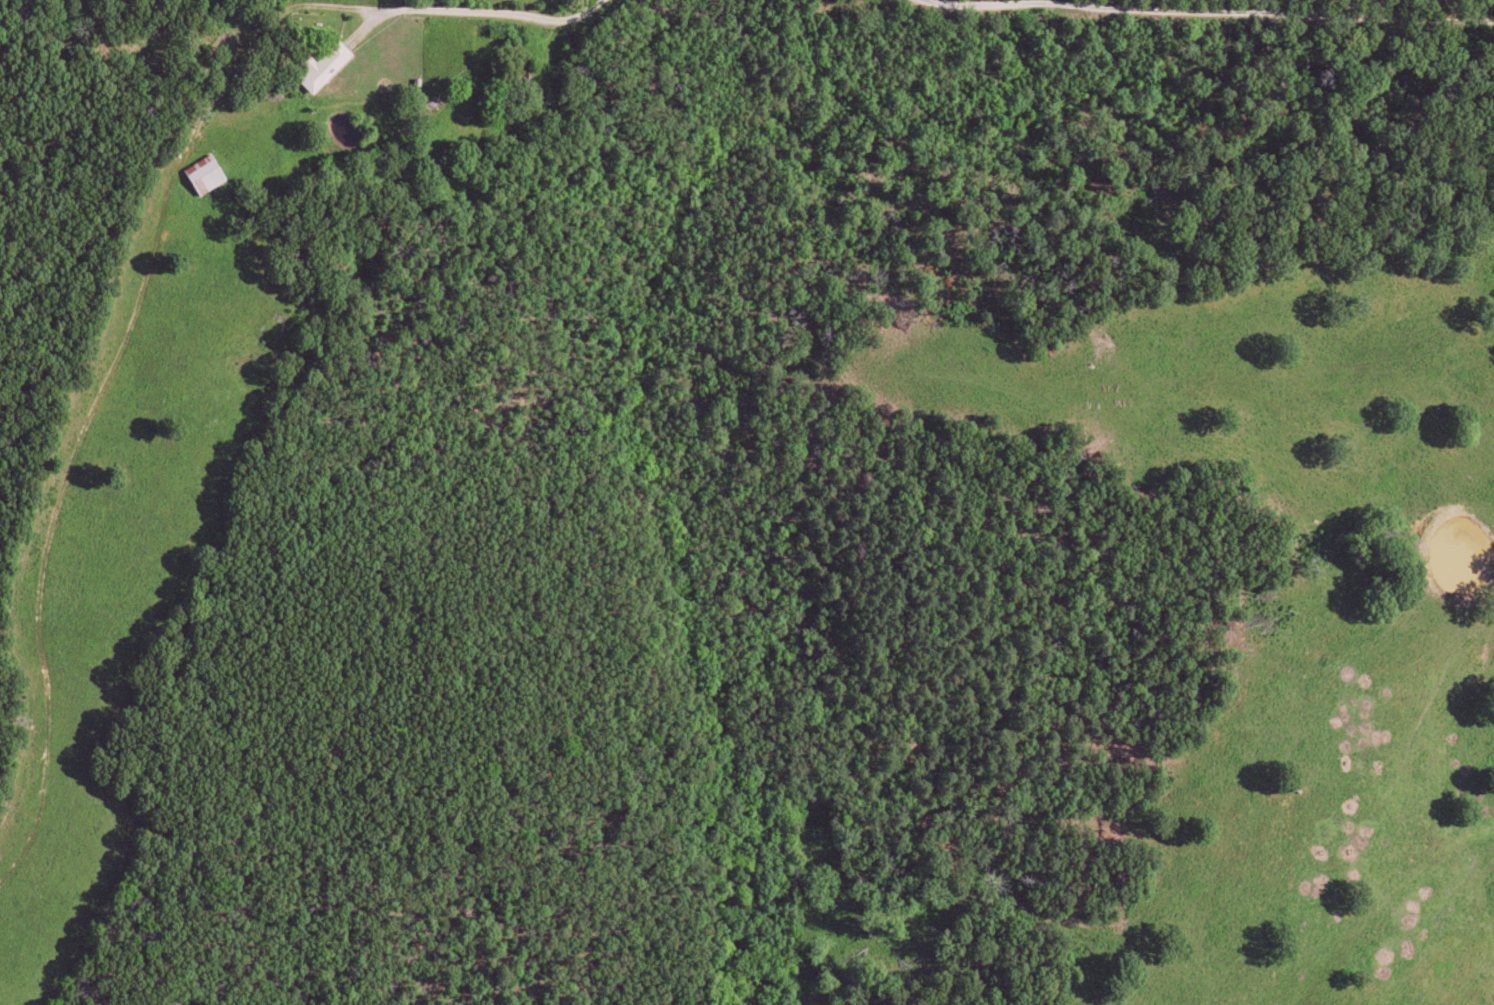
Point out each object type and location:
road: (476, 6)
road: (1234, 12)
building: (329, 65)

